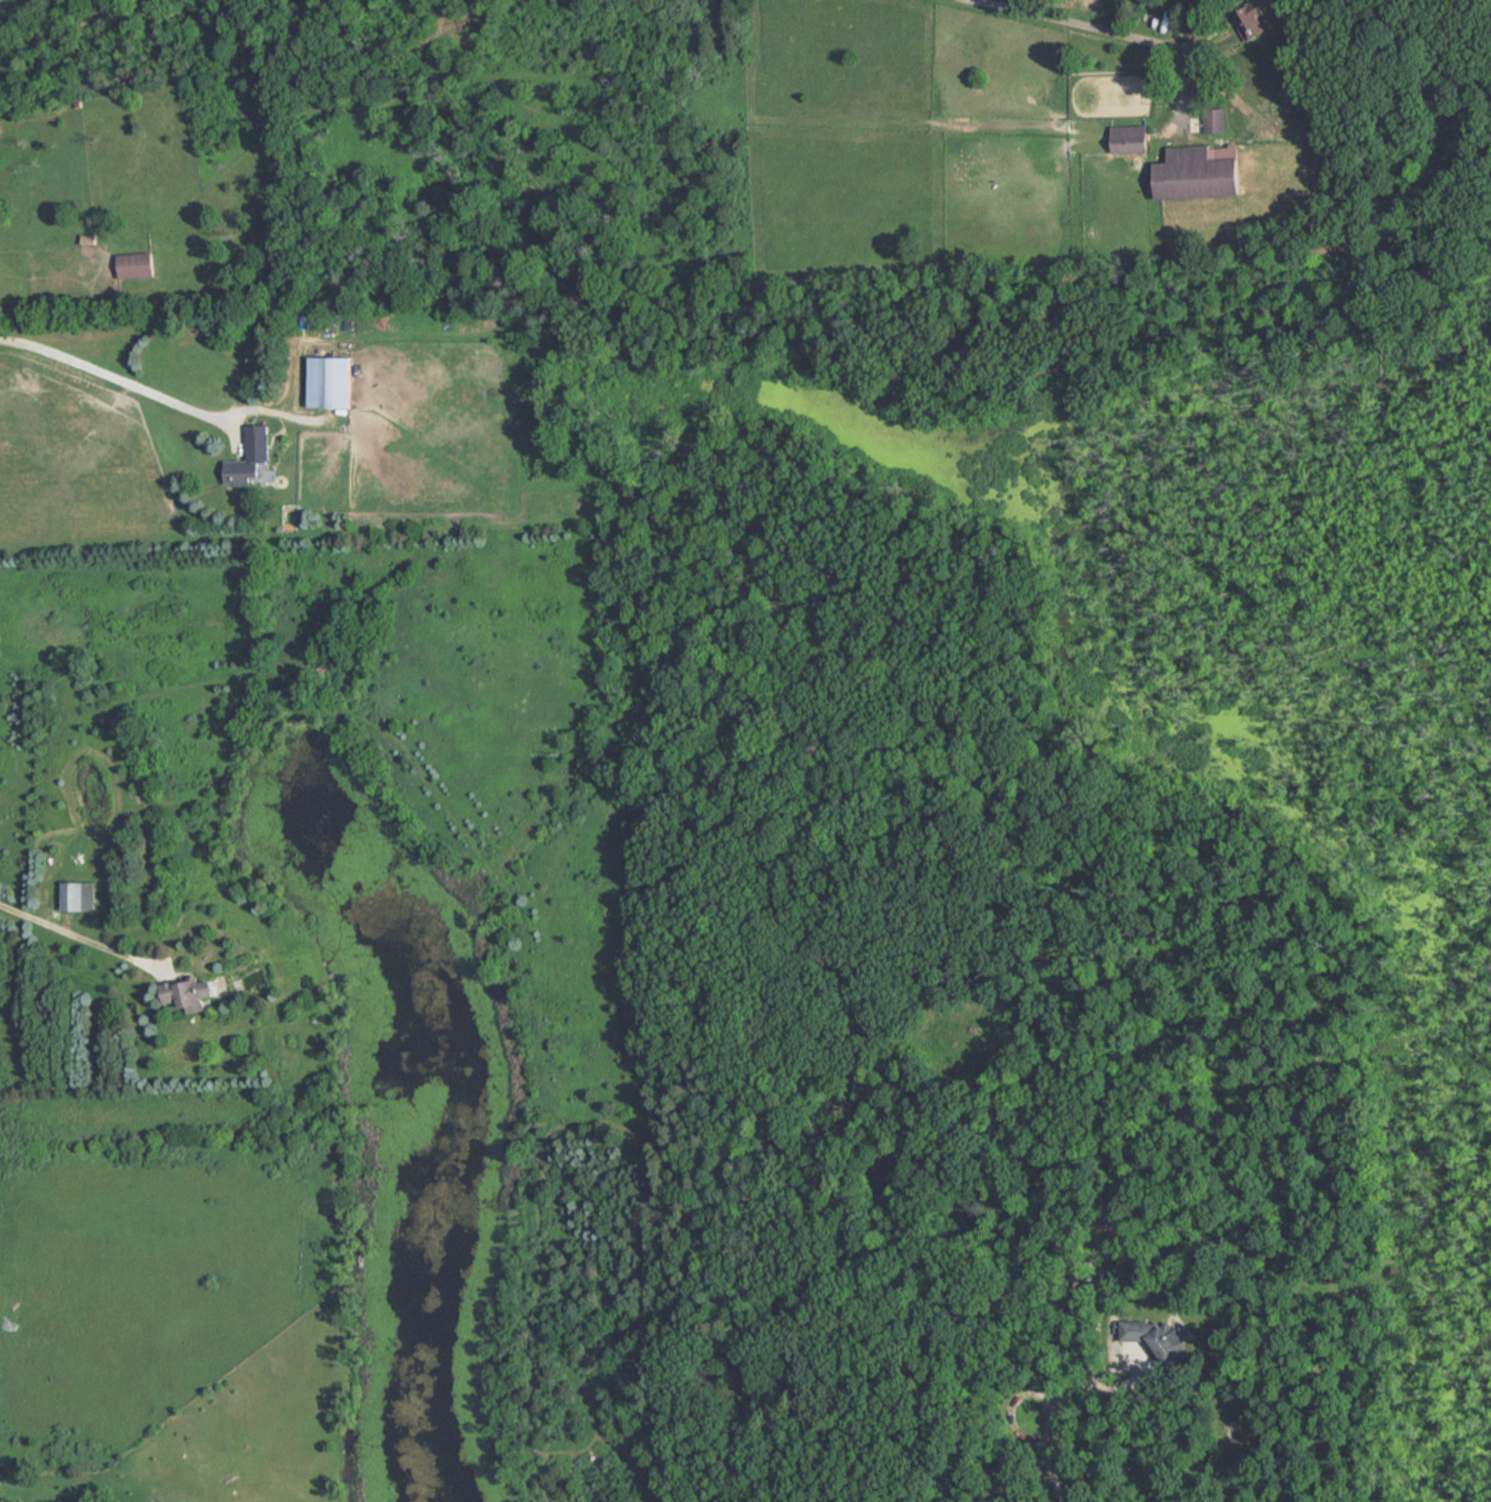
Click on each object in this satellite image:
building: (1252, 17)
road: (1081, 25)
building: (1131, 137)
building: (1199, 171)
building: (137, 265)
road: (114, 378)
building: (330, 381)
building: (250, 457)
building: (78, 896)
road: (76, 927)
building: (190, 993)
building: (1160, 1338)
road: (1139, 1374)
road: (1048, 1435)

